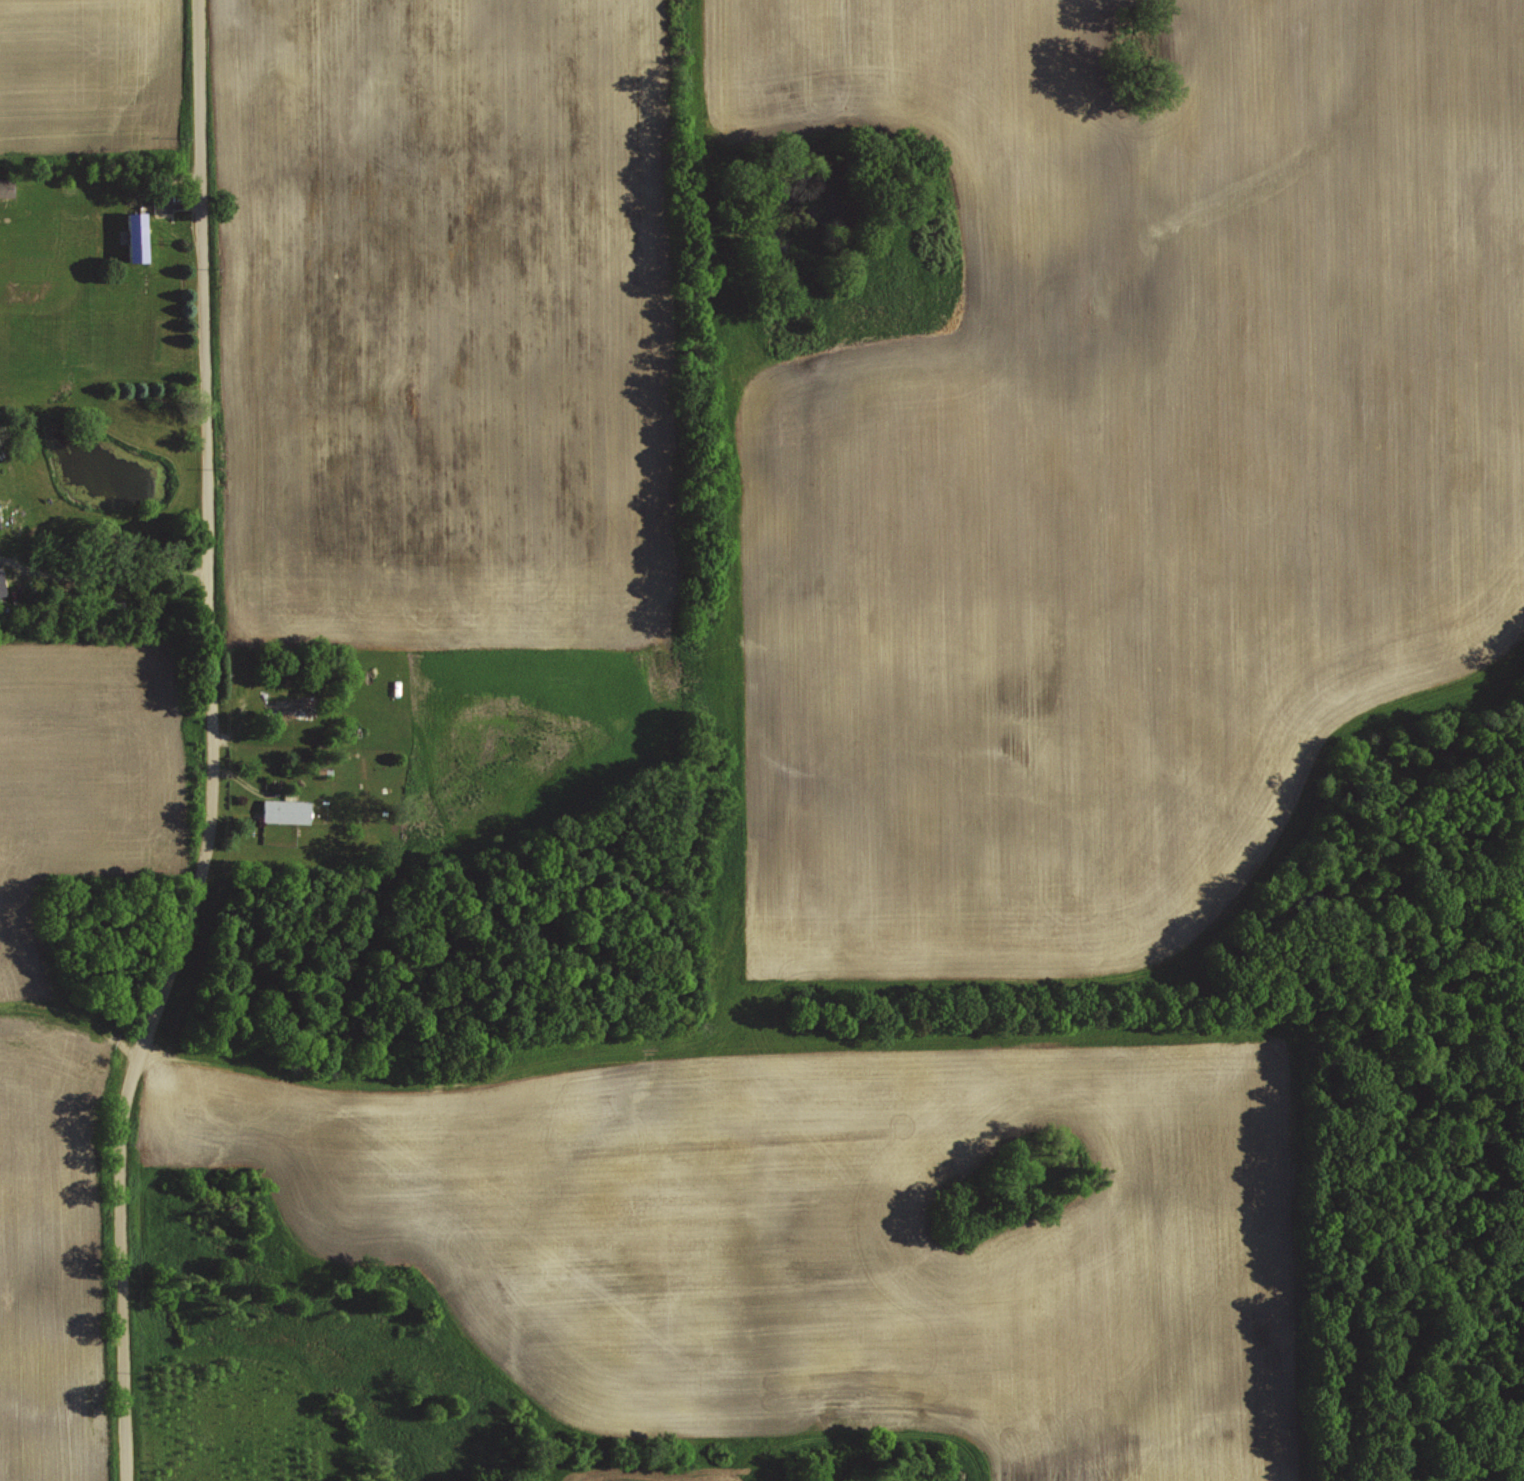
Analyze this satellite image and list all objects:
building: (6, 186)
building: (132, 237)
building: (1, 585)
road: (211, 747)
building: (283, 809)

